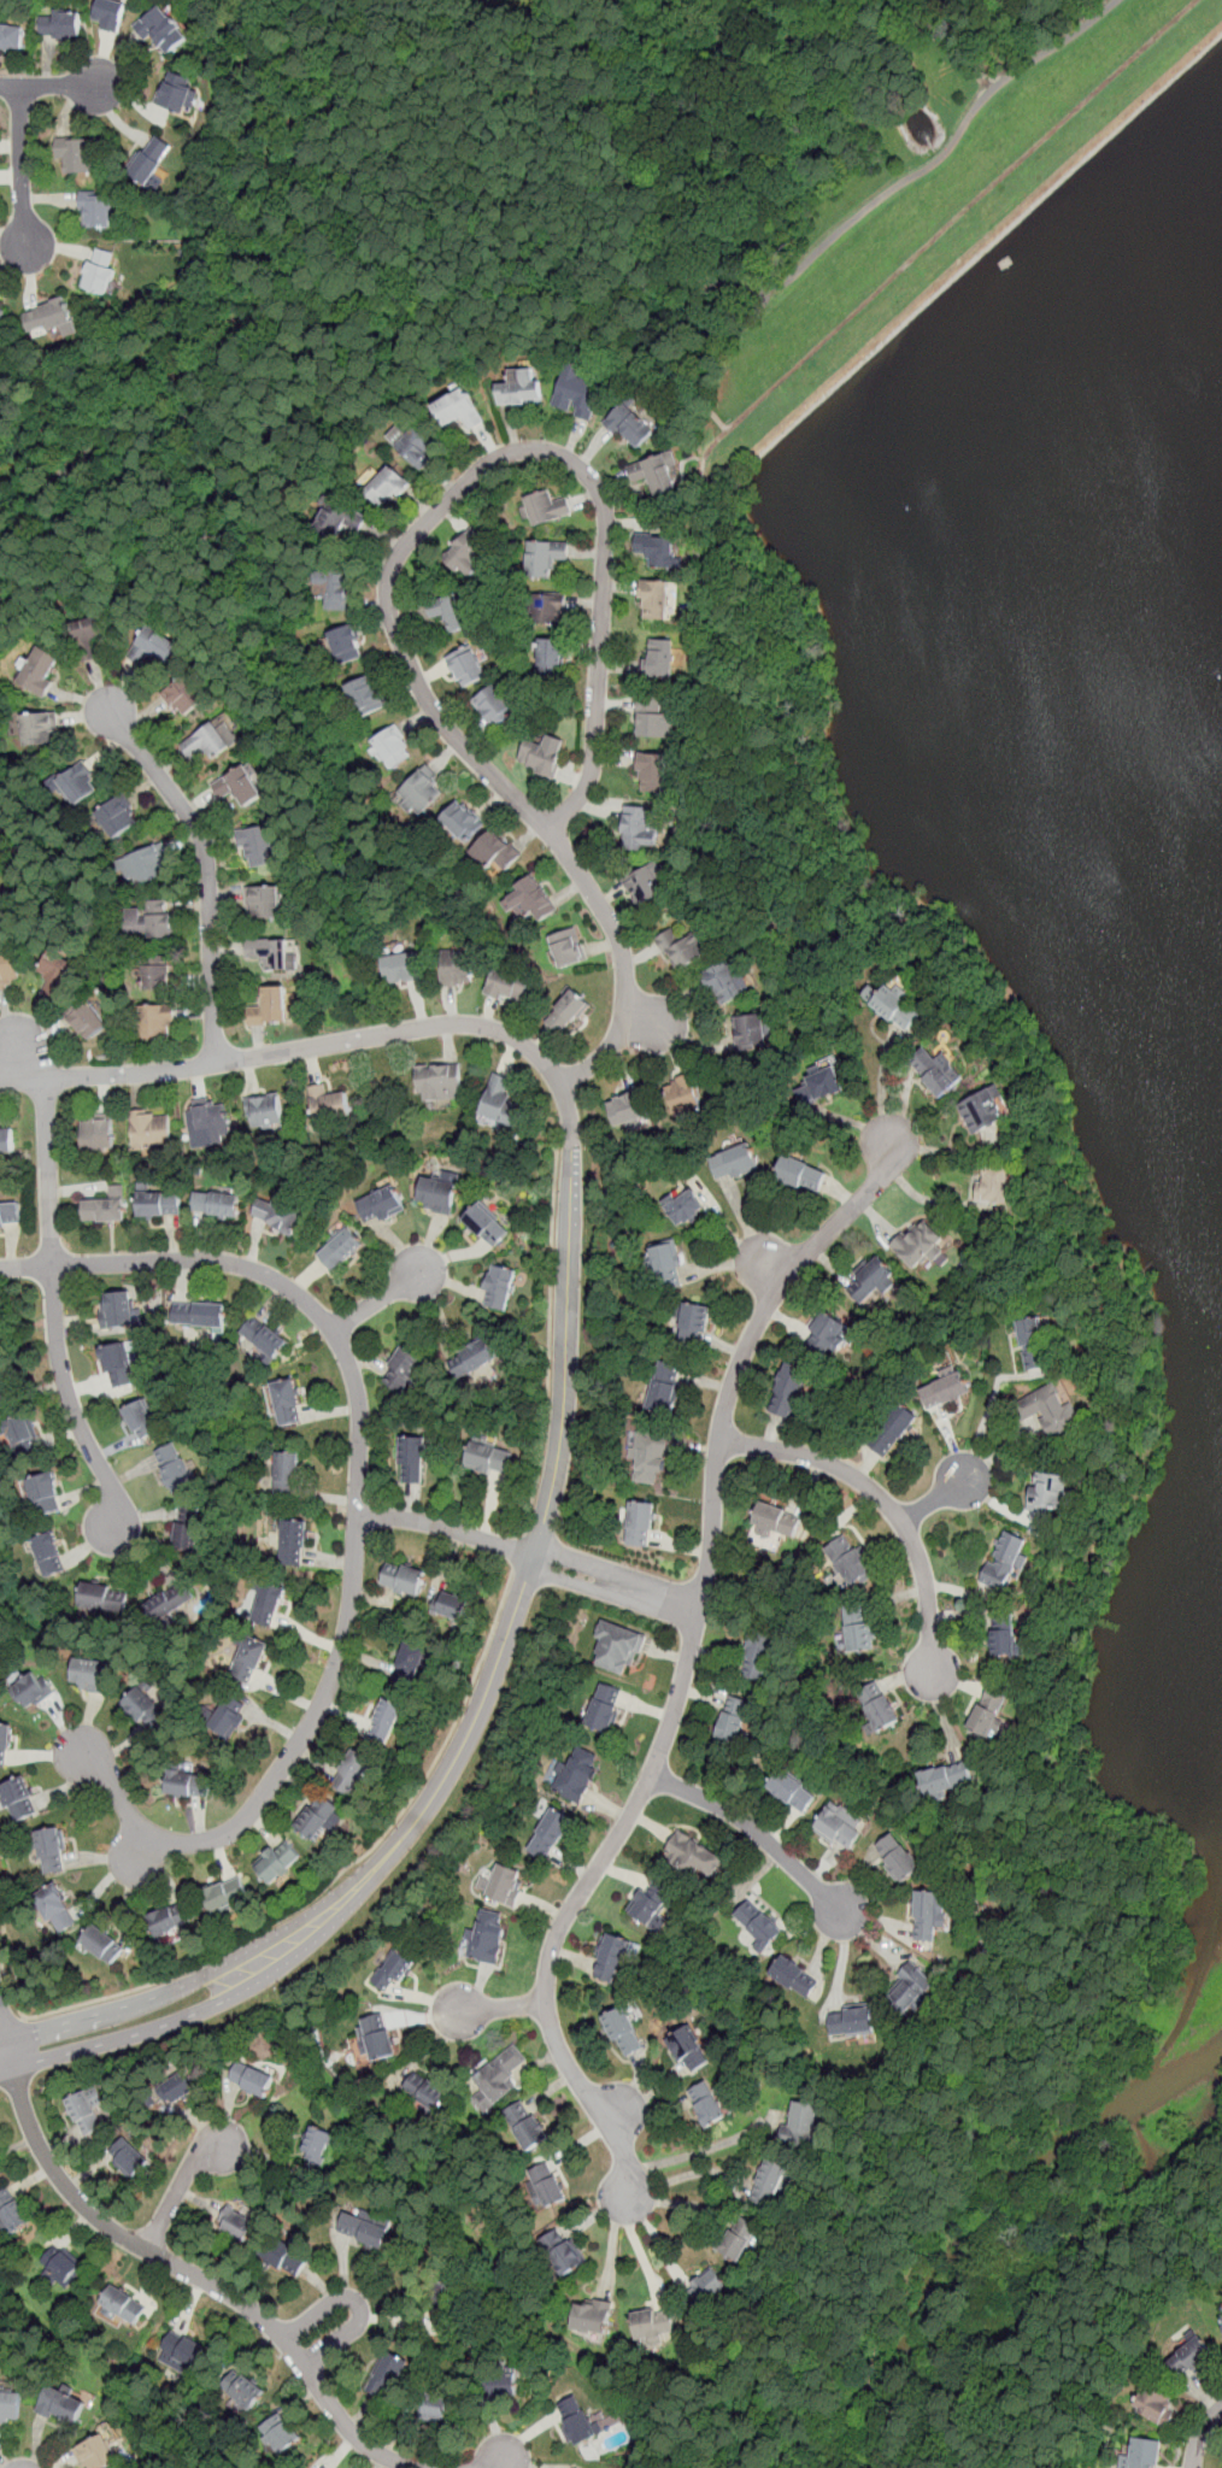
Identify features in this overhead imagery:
building: (110, 14)
building: (60, 24)
building: (161, 28)
building: (11, 35)
road: (935, 43)
road: (51, 86)
building: (175, 90)
road: (544, 121)
building: (76, 154)
building: (151, 160)
road: (22, 165)
building: (95, 207)
road: (568, 260)
building: (99, 270)
building: (1, 310)
building: (46, 317)
road: (497, 346)
road: (729, 348)
building: (521, 387)
building: (577, 392)
building: (459, 407)
building: (629, 424)
building: (419, 447)
building: (653, 472)
road: (472, 475)
building: (387, 488)
building: (546, 506)
building: (341, 519)
building: (658, 550)
building: (468, 551)
building: (546, 556)
building: (331, 588)
building: (654, 597)
building: (550, 606)
building: (453, 611)
building: (88, 637)
building: (155, 641)
building: (345, 645)
building: (551, 657)
building: (659, 657)
building: (466, 666)
building: (40, 671)
building: (184, 697)
building: (365, 697)
building: (494, 707)
building: (654, 716)
building: (39, 730)
building: (207, 740)
building: (392, 747)
building: (539, 756)
building: (652, 770)
building: (78, 783)
building: (239, 786)
building: (419, 793)
building: (117, 818)
building: (460, 821)
building: (641, 827)
building: (0, 840)
building: (258, 846)
building: (497, 853)
road: (206, 864)
building: (147, 865)
building: (646, 882)
building: (0, 893)
building: (529, 901)
building: (263, 904)
park: (909, 912)
building: (149, 919)
building: (566, 946)
building: (680, 946)
building: (270, 954)
road: (623, 963)
building: (401, 966)
building: (458, 968)
building: (8, 969)
building: (55, 972)
building: (158, 972)
building: (727, 981)
building: (510, 983)
building: (895, 1005)
building: (269, 1006)
building: (566, 1010)
building: (88, 1019)
building: (158, 1021)
building: (750, 1029)
road: (324, 1044)
road: (18, 1054)
building: (936, 1070)
building: (440, 1082)
building: (822, 1086)
building: (682, 1089)
building: (501, 1101)
building: (629, 1104)
building: (328, 1105)
building: (982, 1110)
building: (265, 1111)
building: (211, 1123)
road: (1047, 1128)
building: (151, 1130)
building: (98, 1134)
building: (7, 1140)
building: (735, 1160)
building: (800, 1174)
building: (993, 1183)
building: (437, 1194)
building: (159, 1203)
building: (216, 1204)
building: (380, 1205)
building: (683, 1205)
building: (105, 1207)
building: (10, 1215)
building: (276, 1215)
building: (486, 1226)
building: (918, 1244)
building: (340, 1250)
building: (665, 1265)
building: (873, 1279)
building: (499, 1288)
road: (380, 1298)
building: (117, 1310)
road: (55, 1311)
building: (200, 1315)
building: (694, 1321)
building: (827, 1330)
road: (751, 1336)
building: (263, 1338)
road: (550, 1340)
building: (1032, 1341)
building: (474, 1357)
building: (117, 1365)
building: (406, 1369)
building: (2, 1382)
building: (945, 1389)
building: (788, 1391)
building: (663, 1399)
building: (287, 1403)
road: (991, 1409)
building: (1051, 1410)
building: (142, 1418)
building: (892, 1428)
building: (22, 1435)
building: (488, 1458)
building: (412, 1459)
building: (651, 1459)
building: (175, 1467)
building: (287, 1474)
building: (46, 1492)
building: (1046, 1492)
road: (883, 1499)
road: (934, 1499)
building: (775, 1520)
building: (640, 1522)
building: (188, 1528)
road: (356, 1528)
road: (447, 1528)
road: (539, 1534)
building: (292, 1540)
road: (519, 1551)
building: (49, 1553)
building: (848, 1561)
building: (1005, 1561)
building: (403, 1580)
road: (616, 1585)
building: (104, 1599)
building: (171, 1603)
building: (269, 1604)
building: (448, 1606)
building: (859, 1632)
building: (1003, 1636)
building: (617, 1647)
building: (757, 1655)
building: (249, 1659)
building: (409, 1664)
building: (90, 1675)
building: (30, 1691)
building: (604, 1708)
building: (146, 1709)
building: (988, 1709)
building: (882, 1710)
building: (230, 1717)
building: (733, 1717)
building: (386, 1720)
building: (5, 1741)
building: (351, 1771)
building: (576, 1773)
building: (945, 1777)
building: (188, 1784)
building: (792, 1790)
building: (18, 1798)
building: (316, 1817)
building: (840, 1824)
road: (757, 1831)
building: (550, 1833)
building: (51, 1849)
building: (694, 1855)
building: (897, 1857)
building: (276, 1862)
road: (341, 1874)
building: (500, 1884)
building: (225, 1896)
building: (650, 1904)
building: (55, 1906)
road: (569, 1906)
building: (929, 1915)
building: (172, 1916)
building: (758, 1922)
building: (484, 1935)
building: (104, 1941)
building: (610, 1956)
building: (392, 1972)
building: (794, 1975)
road: (194, 1978)
road: (8, 1987)
building: (910, 1990)
road: (499, 2005)
road: (210, 2006)
road: (11, 2020)
building: (851, 2020)
road: (1, 2031)
building: (623, 2031)
road: (1, 2038)
building: (376, 2038)
building: (688, 2049)
road: (7, 2052)
road: (6, 2069)
building: (499, 2075)
building: (251, 2079)
building: (178, 2090)
building: (425, 2092)
building: (706, 2103)
building: (87, 2111)
building: (801, 2123)
building: (527, 2125)
building: (315, 2144)
road: (700, 2150)
building: (128, 2157)
building: (770, 2184)
road: (180, 2185)
building: (544, 2186)
building: (12, 2211)
building: (235, 2225)
building: (363, 2231)
building: (735, 2238)
building: (562, 2252)
building: (286, 2257)
building: (60, 2267)
road: (204, 2280)
building: (704, 2290)
road: (359, 2302)
building: (442, 2302)
building: (122, 2305)
building: (592, 2316)
building: (1221, 2319)
building: (652, 2322)
road: (1106, 2328)
building: (180, 2354)
building: (1191, 2357)
building: (387, 2375)
building: (500, 2384)
building: (245, 2391)
building: (10, 2404)
building: (64, 2404)
building: (1155, 2407)
building: (431, 2408)
building: (576, 2419)
road: (1202, 2434)
building: (282, 2435)
building: (96, 2454)
building: (1144, 2454)
road: (503, 2460)
building: (318, 2466)

